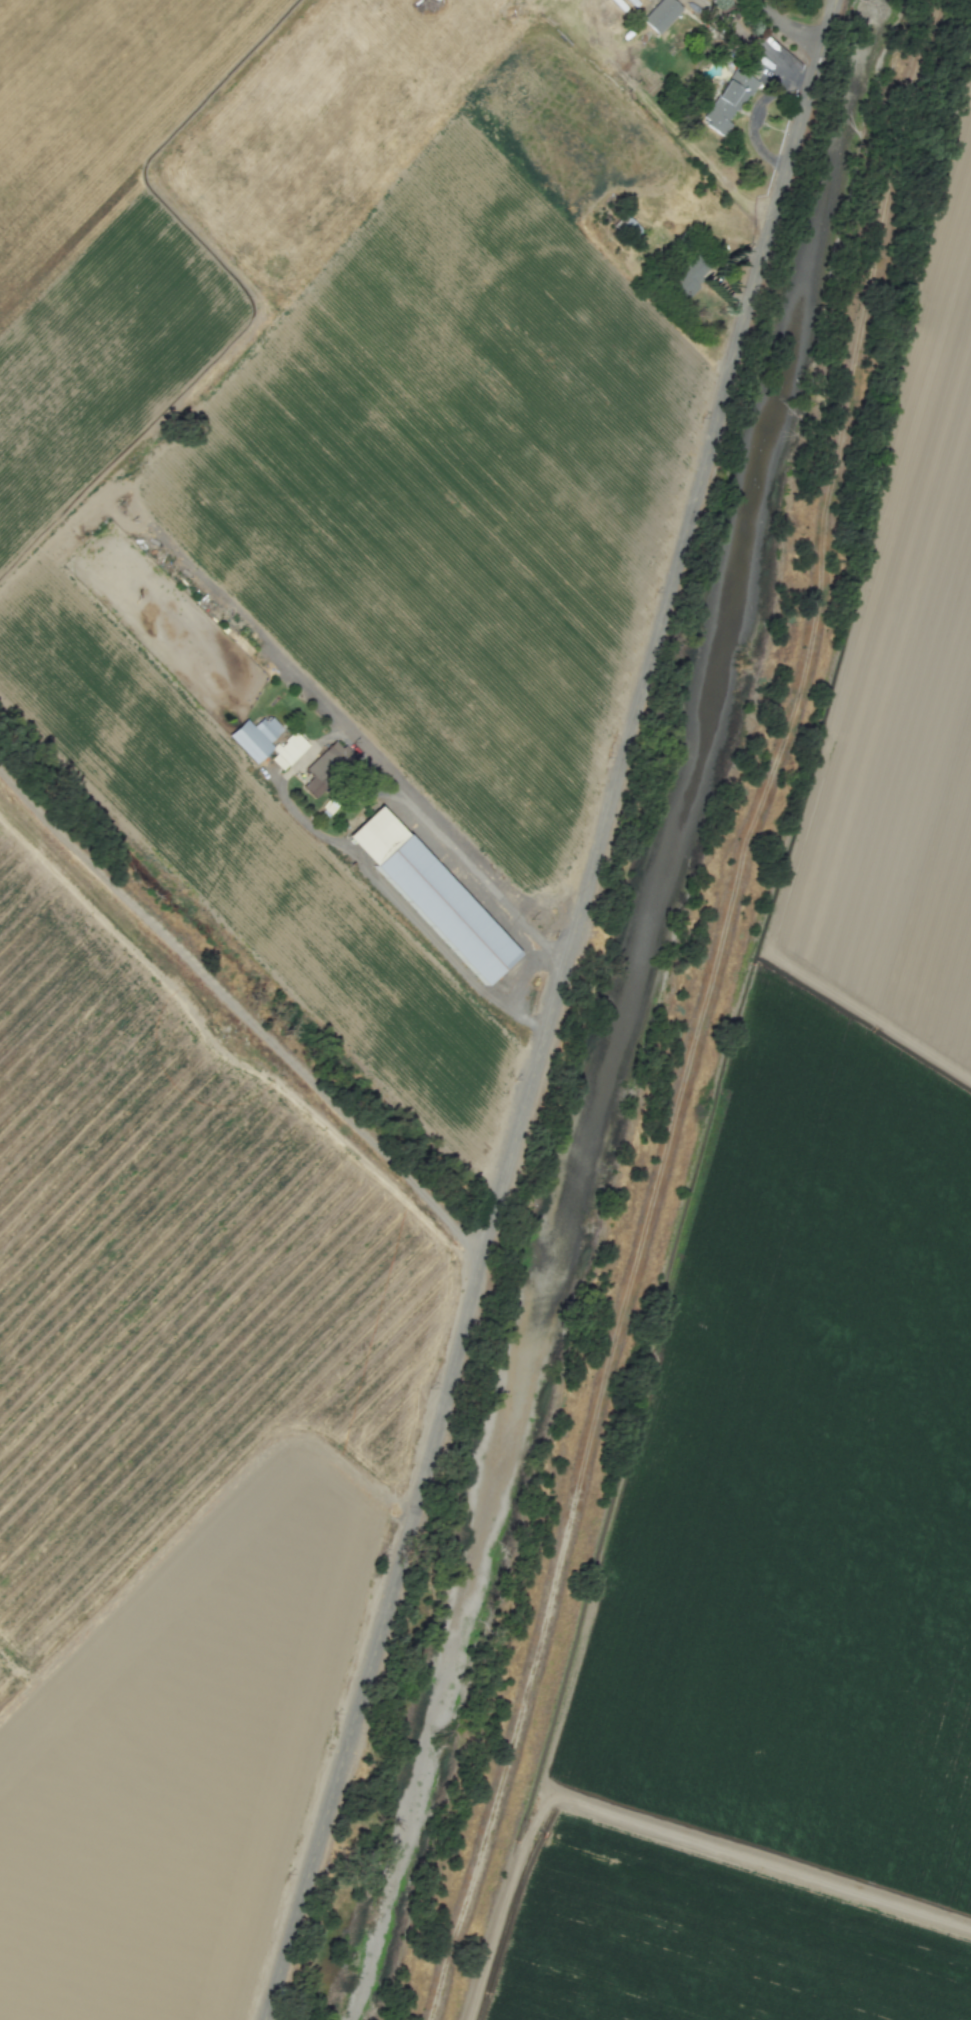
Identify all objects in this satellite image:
building: (659, 14)
road: (785, 26)
crop: (724, 94)
building: (728, 100)
crop: (694, 109)
building: (688, 277)
building: (255, 736)
building: (289, 748)
building: (374, 834)
crop: (270, 862)
road: (480, 879)
building: (444, 909)
road: (403, 910)
road: (550, 1009)
road: (705, 1012)
road: (242, 1014)
crop: (800, 1370)

